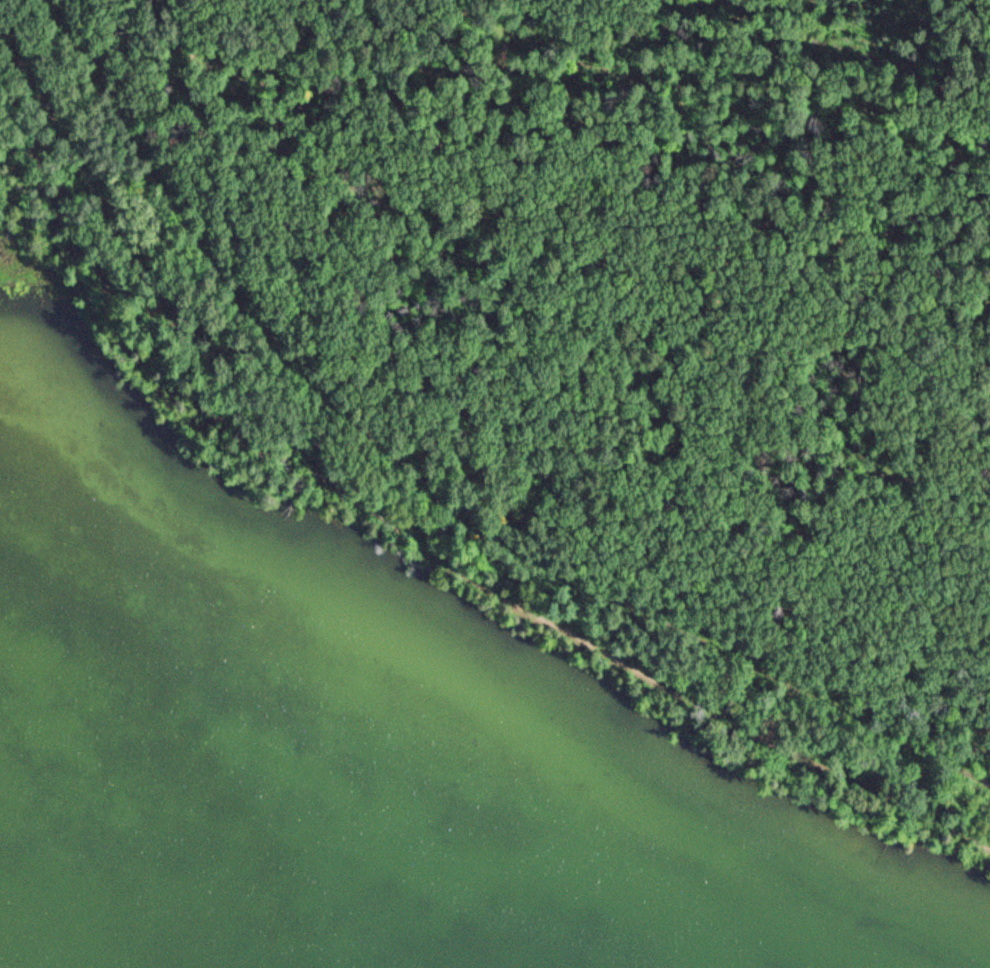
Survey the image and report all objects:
road: (409, 531)

